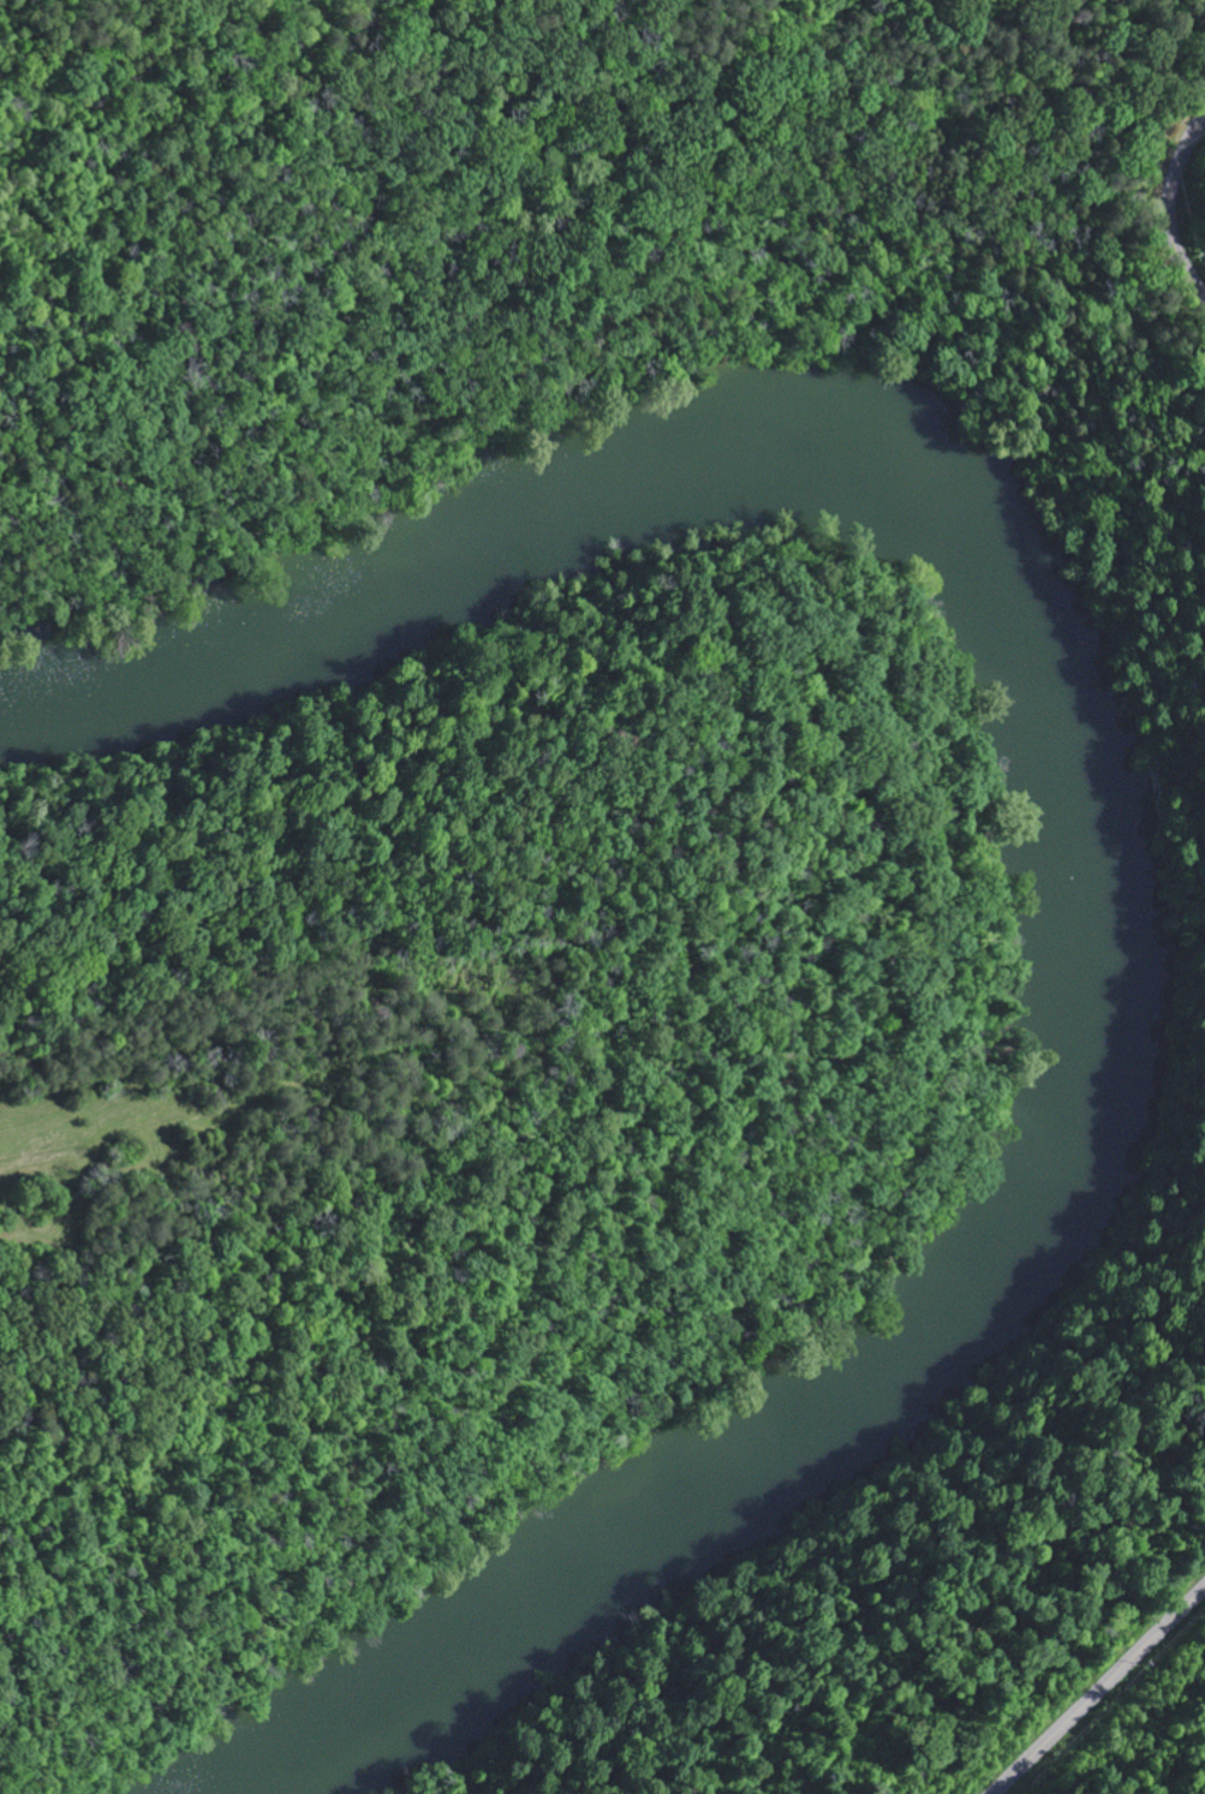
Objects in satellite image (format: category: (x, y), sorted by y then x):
road: (1186, 213)
river: (1081, 818)
road: (1096, 1680)

